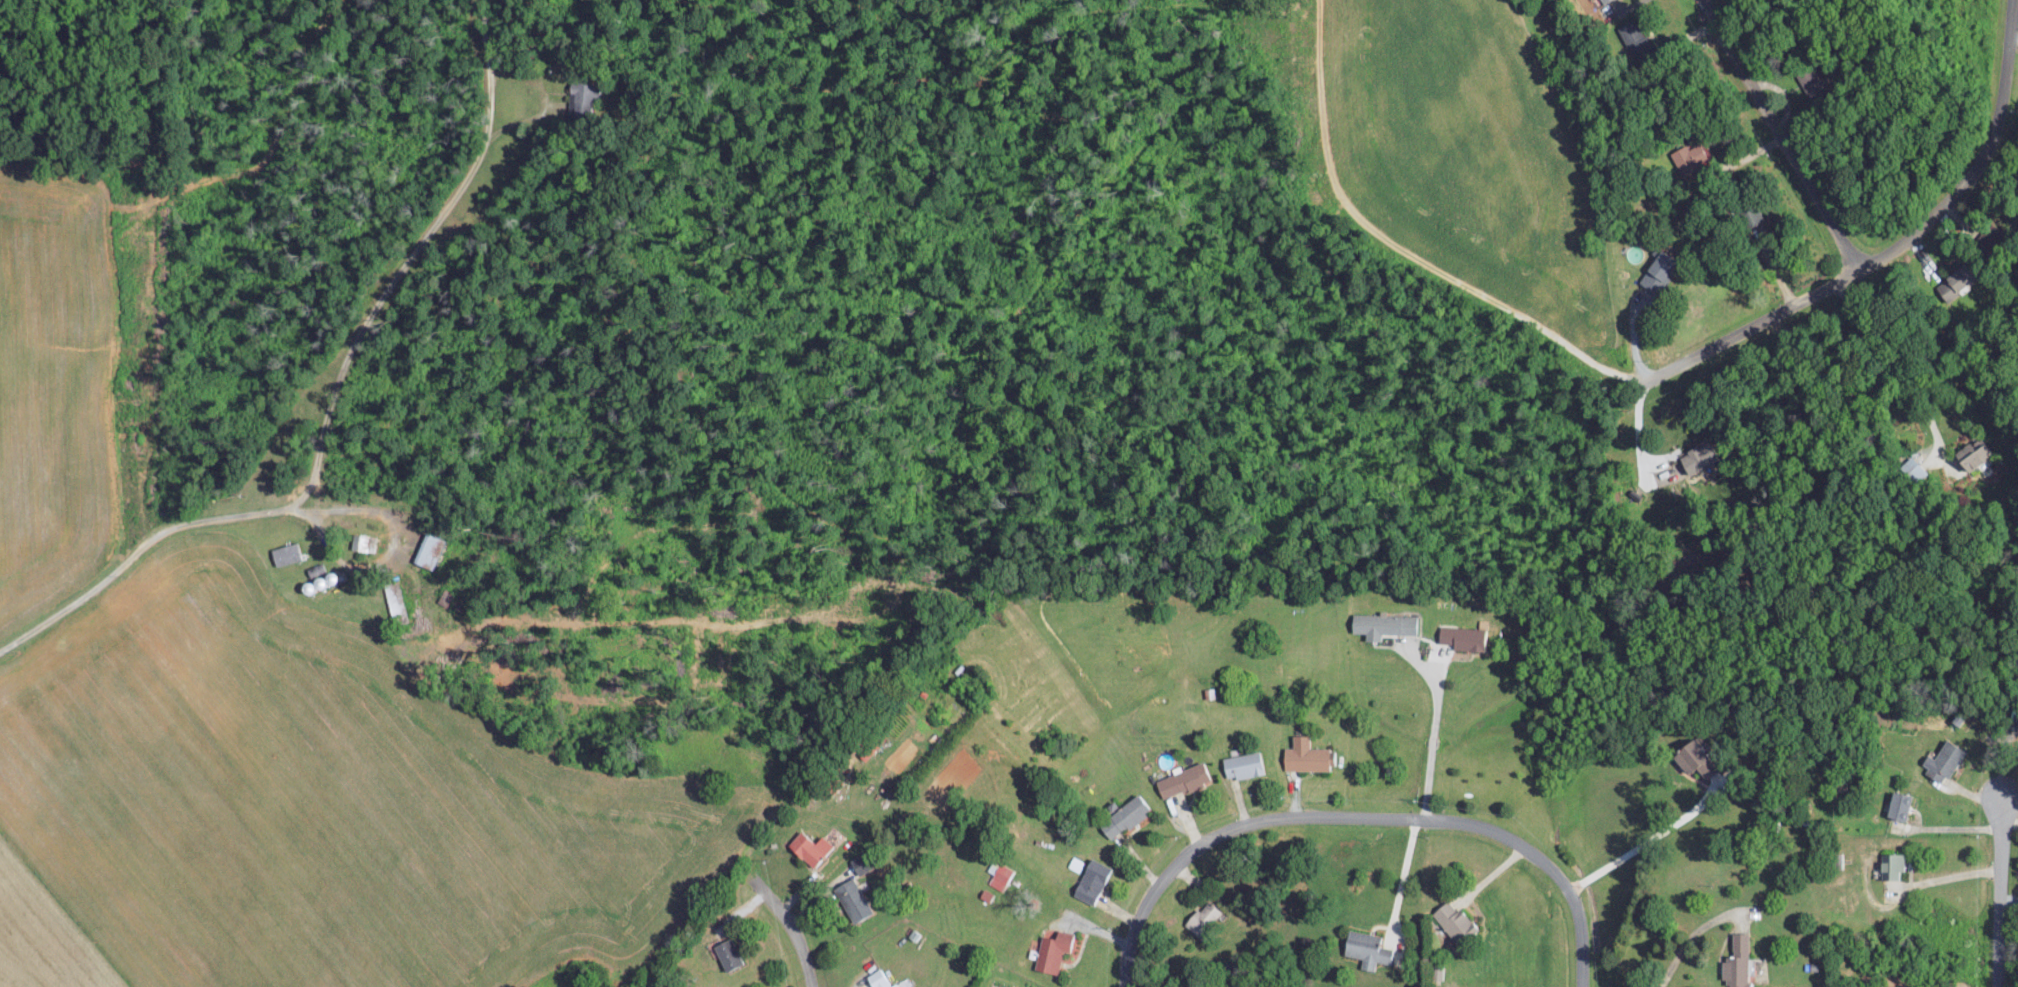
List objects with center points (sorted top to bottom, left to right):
building: (1602, 1)
building: (1631, 36)
road: (2012, 37)
building: (578, 96)
road: (1780, 135)
building: (1688, 157)
road: (1890, 245)
building: (1656, 272)
building: (1951, 285)
road: (1635, 337)
road: (1900, 362)
road: (1639, 433)
building: (1972, 453)
building: (1697, 458)
building: (1914, 469)
road: (153, 534)
building: (362, 542)
building: (426, 551)
building: (284, 554)
building: (315, 583)
building: (394, 601)
building: (1381, 625)
building: (1462, 637)
road: (1434, 666)
road: (1433, 731)
building: (1303, 755)
building: (1686, 755)
building: (1941, 761)
building: (1241, 764)
building: (1181, 779)
building: (833, 784)
building: (1898, 805)
road: (1360, 814)
building: (1123, 816)
road: (1948, 828)
road: (1645, 842)
building: (807, 847)
building: (1891, 864)
building: (998, 873)
road: (1404, 876)
road: (1945, 877)
building: (1089, 880)
road: (1995, 891)
building: (851, 898)
building: (1201, 916)
building: (1452, 920)
road: (795, 921)
road: (1689, 938)
building: (1365, 948)
building: (1052, 950)
building: (726, 953)
building: (1735, 961)
building: (879, 979)

